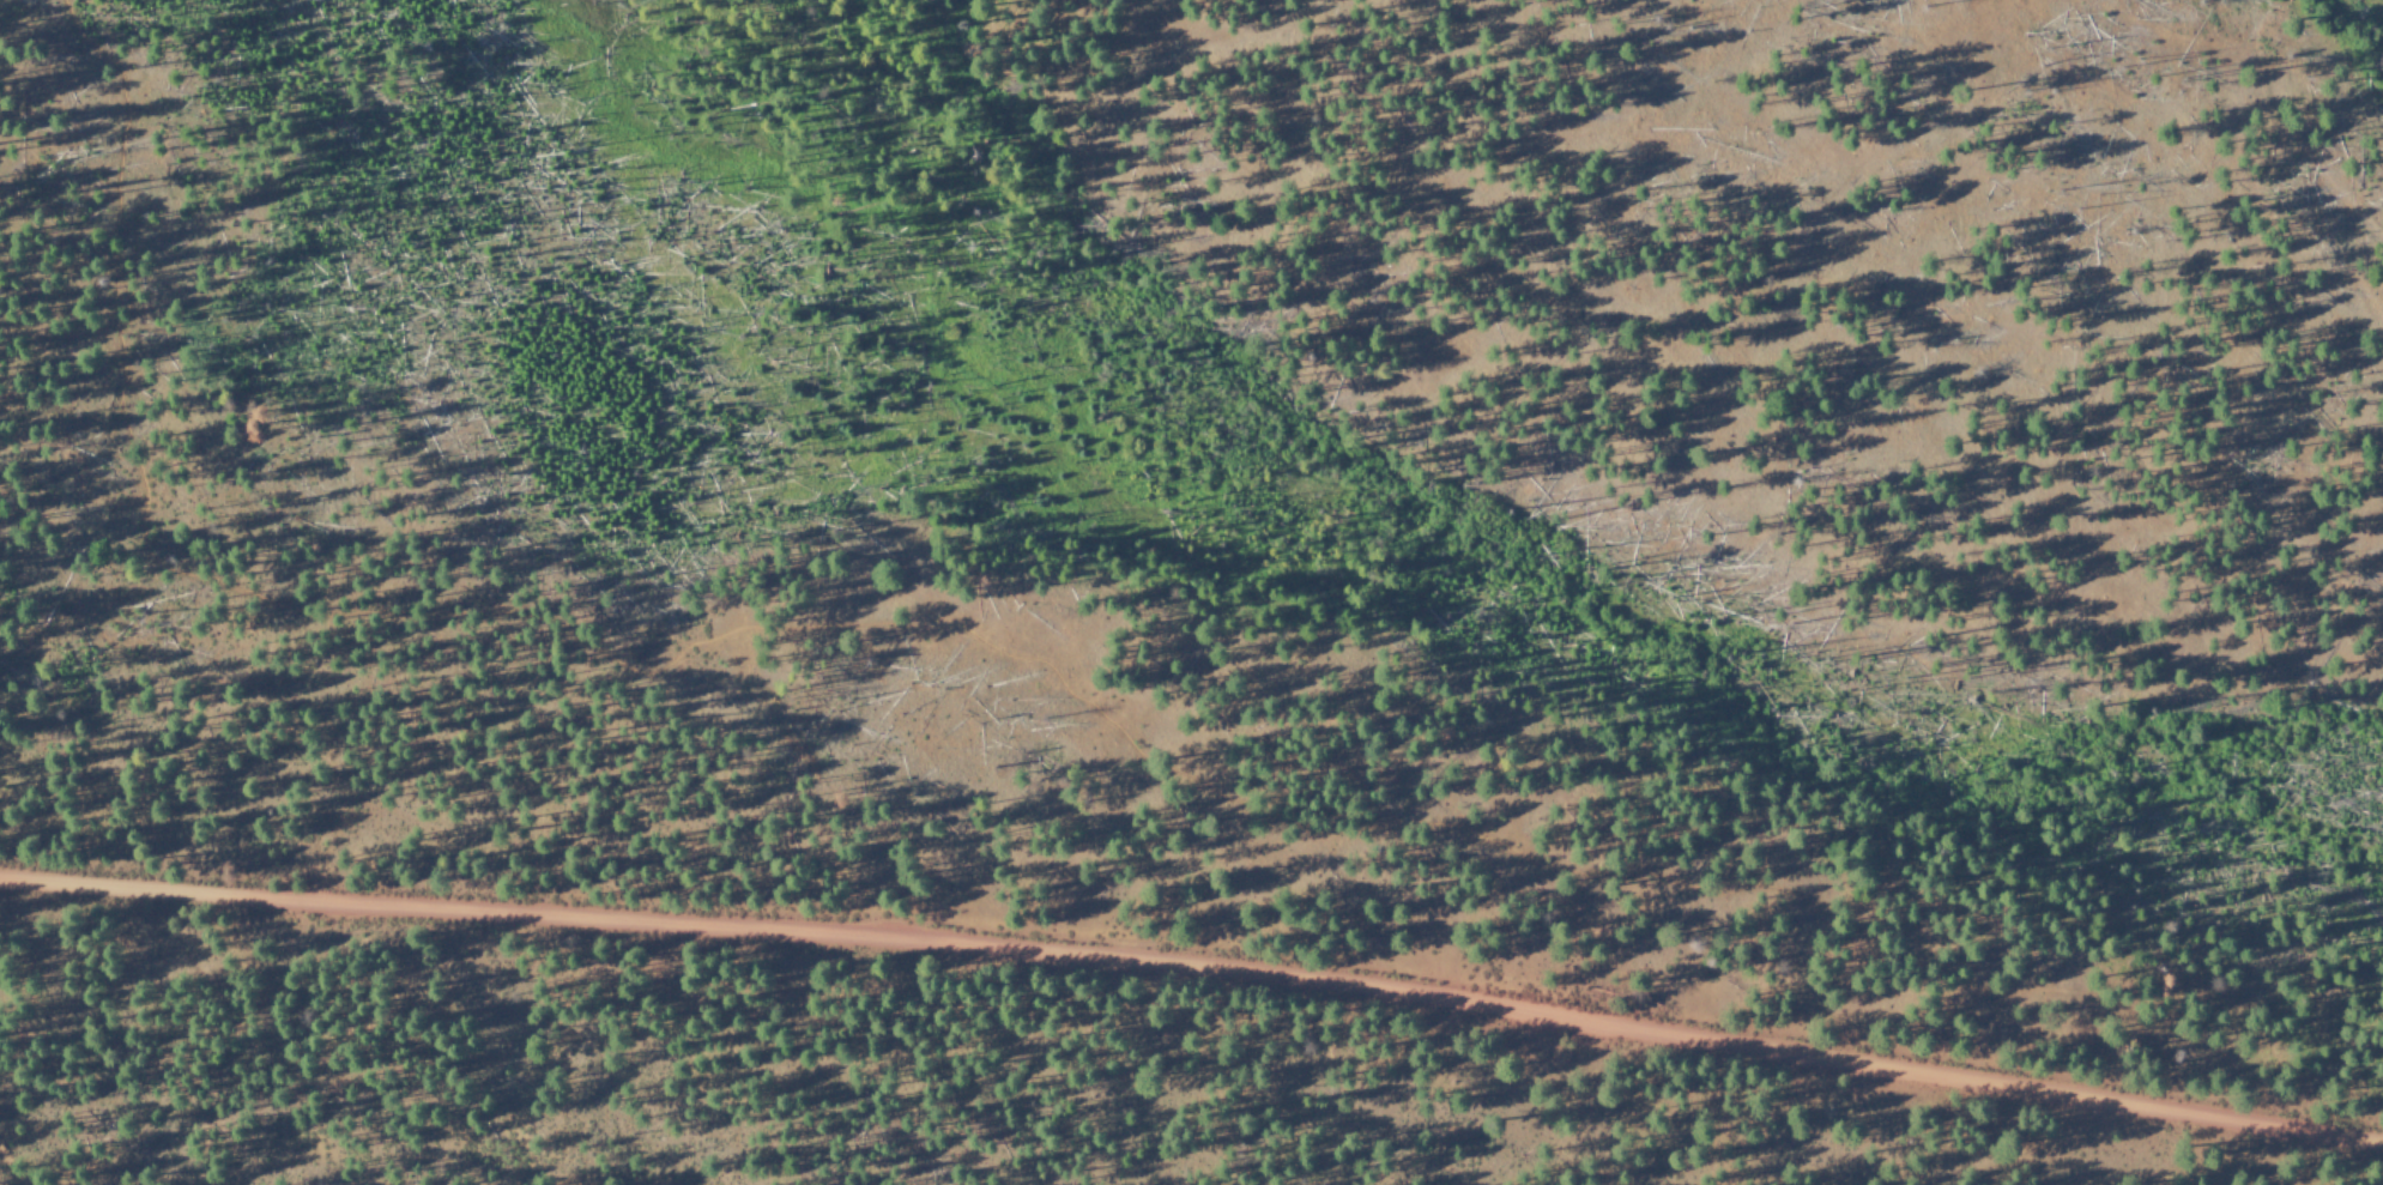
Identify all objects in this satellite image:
road: (1196, 965)
road: (14, 1168)

